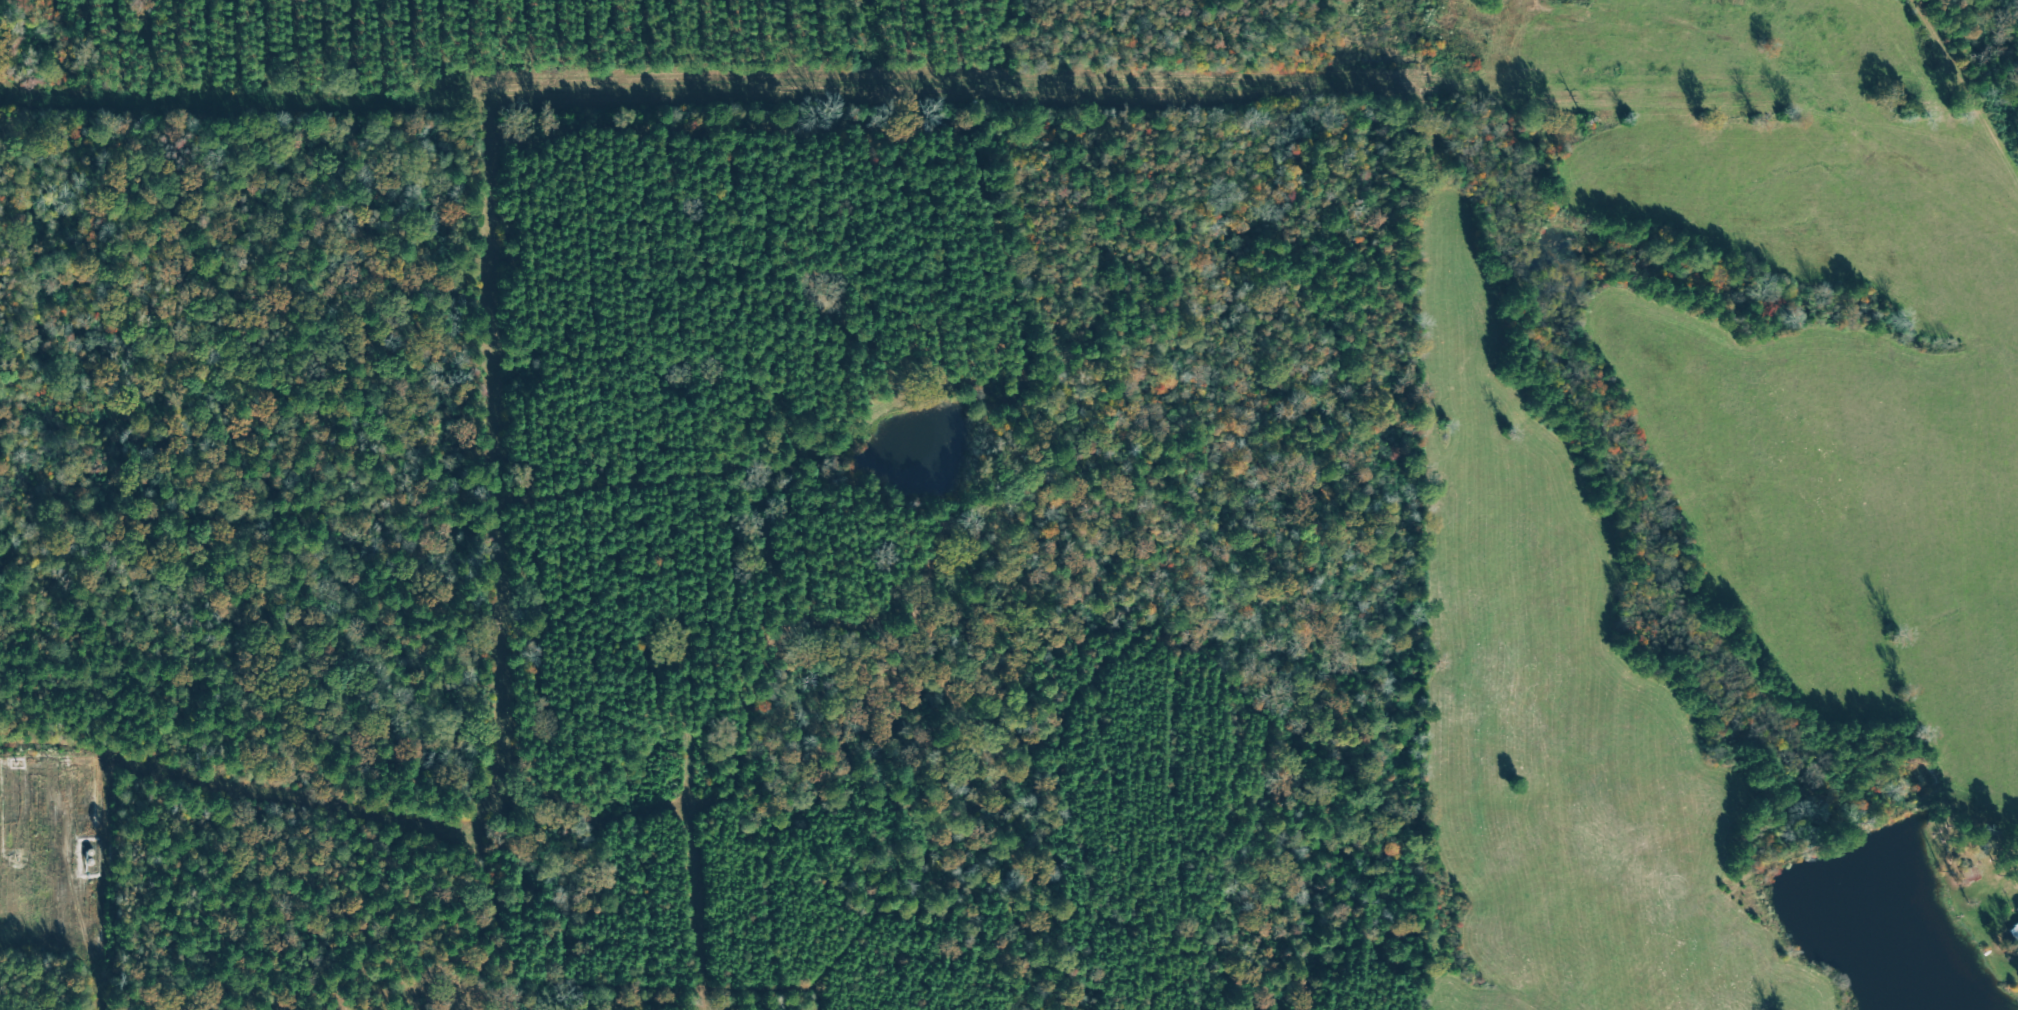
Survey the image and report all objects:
building: (2016, 931)

